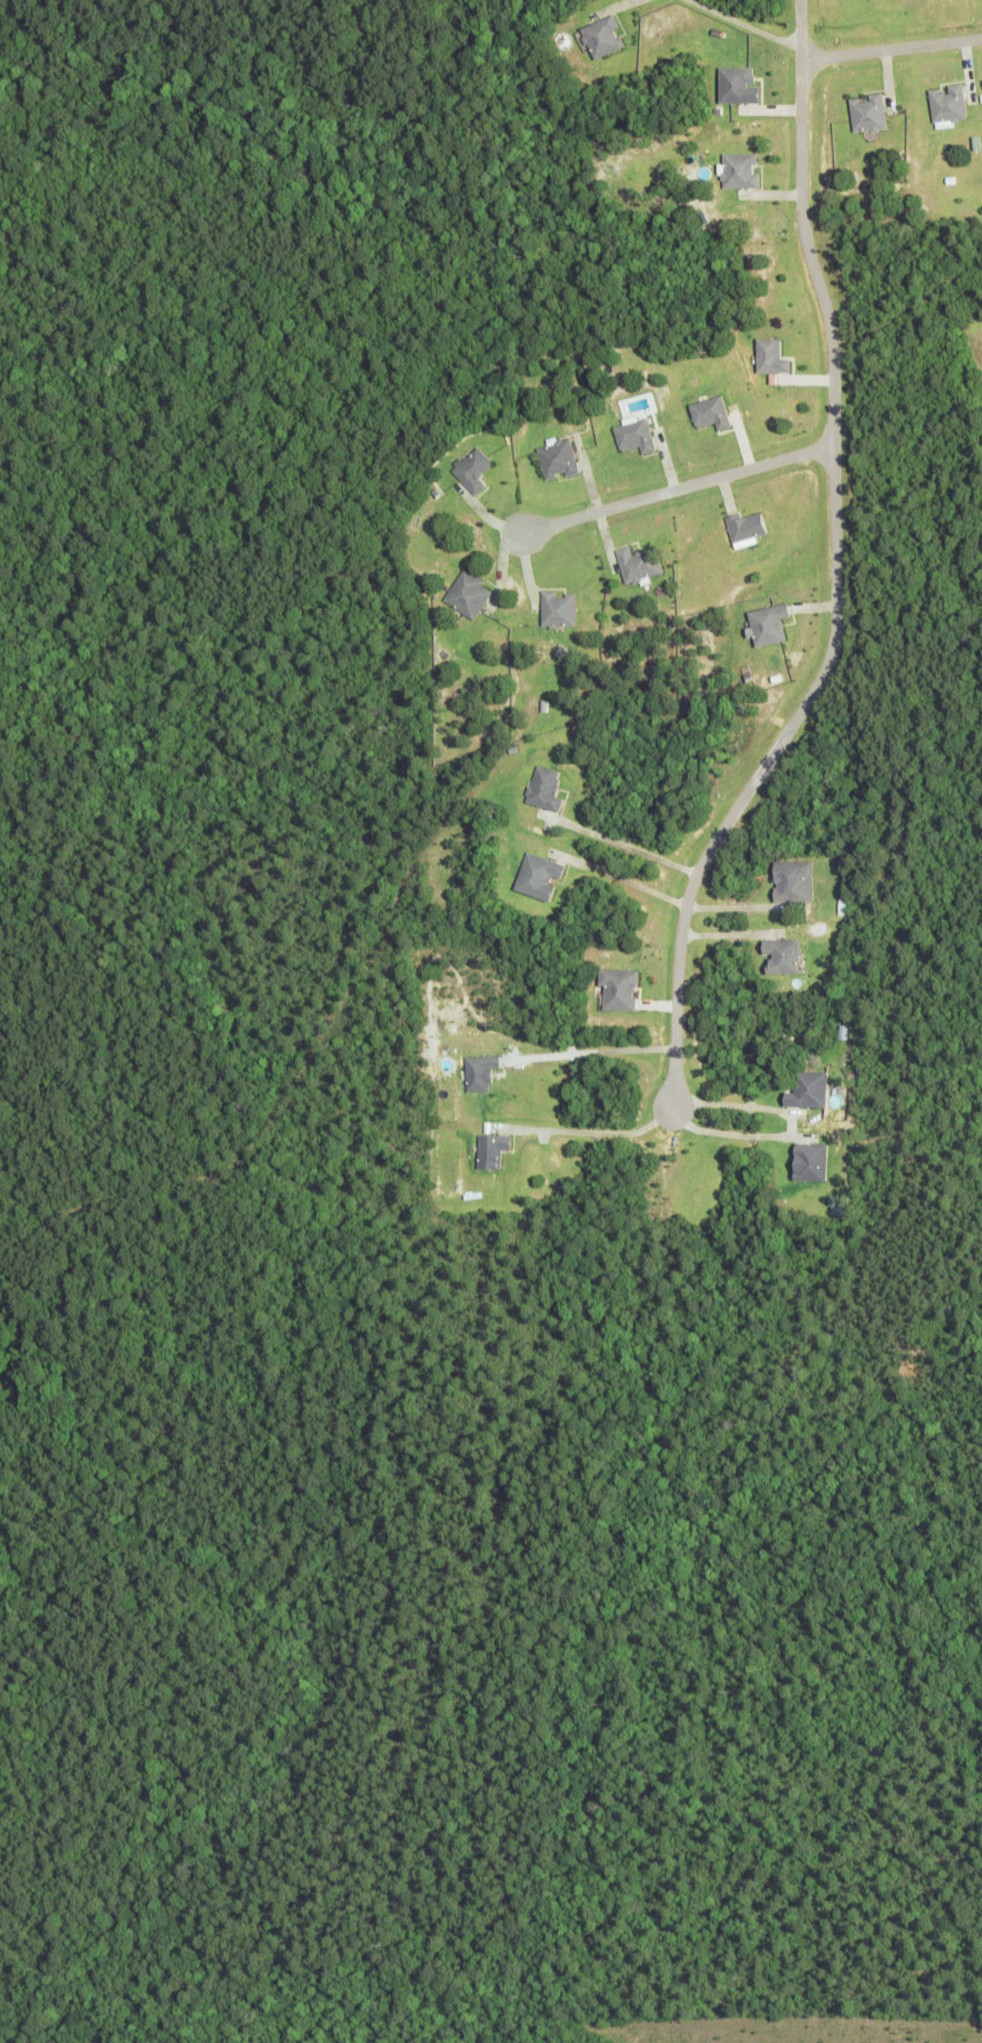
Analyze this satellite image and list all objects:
building: (600, 36)
road: (890, 48)
building: (736, 85)
building: (947, 103)
building: (867, 113)
building: (738, 170)
building: (770, 357)
building: (709, 413)
building: (556, 458)
building: (471, 470)
road: (675, 490)
building: (744, 529)
building: (637, 564)
road: (833, 570)
building: (466, 594)
building: (556, 609)
building: (767, 624)
building: (536, 705)
building: (544, 789)
building: (537, 877)
building: (792, 881)
building: (781, 956)
building: (618, 989)
building: (480, 1071)
building: (807, 1089)
building: (490, 1149)
building: (809, 1161)
building: (837, 1205)

